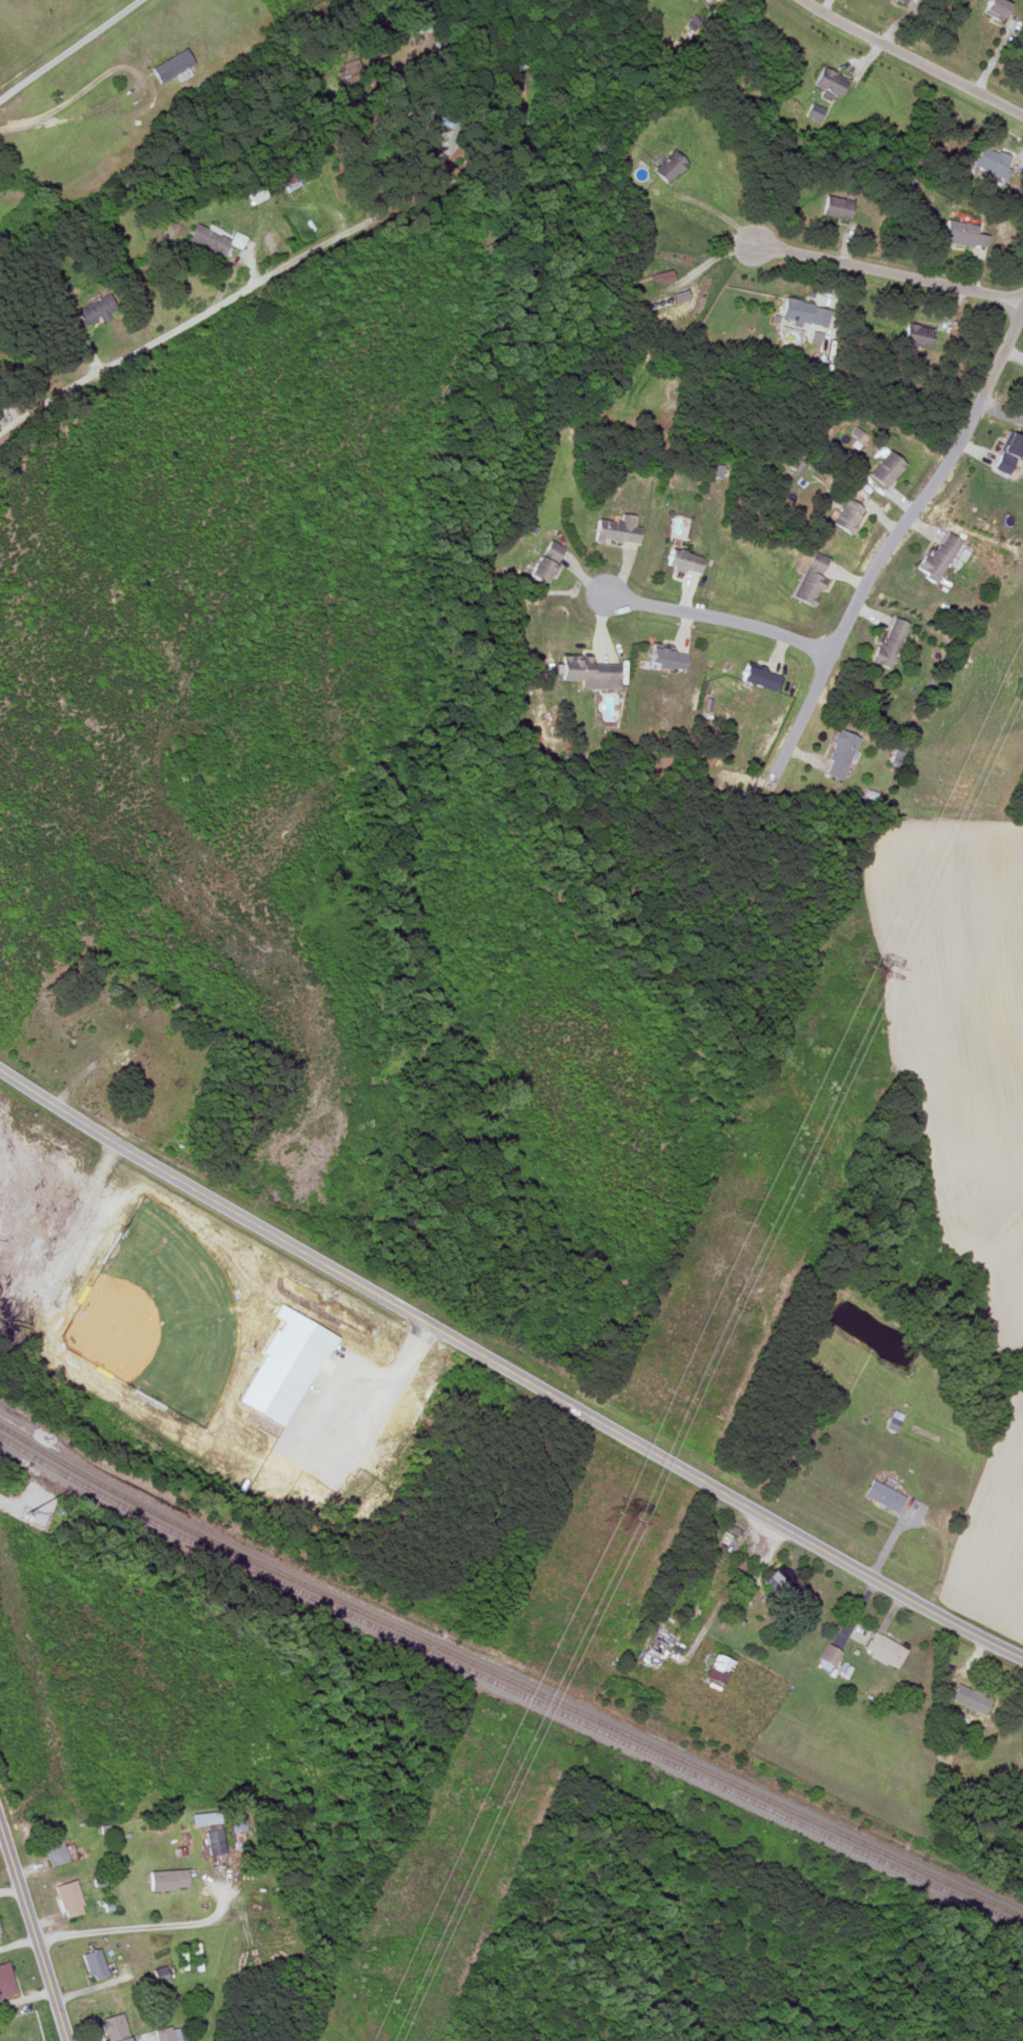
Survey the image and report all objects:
building: (901, 0)
building: (996, 8)
road: (70, 51)
road: (914, 58)
building: (172, 64)
building: (350, 71)
road: (138, 76)
building: (830, 81)
building: (816, 112)
road: (14, 126)
building: (990, 162)
building: (668, 167)
building: (835, 208)
building: (963, 234)
building: (207, 240)
road: (887, 273)
building: (660, 278)
building: (94, 311)
building: (807, 317)
road: (182, 325)
building: (916, 336)
building: (1006, 453)
building: (883, 468)
building: (845, 516)
building: (616, 529)
road: (891, 539)
building: (936, 556)
building: (682, 560)
building: (544, 562)
building: (808, 580)
road: (720, 616)
building: (888, 643)
building: (665, 660)
building: (586, 669)
building: (757, 678)
building: (839, 755)
power tower: (867, 969)
building: (286, 1366)
road: (508, 1367)
building: (891, 1421)
road: (319, 1467)
railway: (91, 1478)
building: (882, 1497)
road: (6, 1501)
power tower: (612, 1525)
building: (731, 1532)
building: (784, 1585)
road: (729, 1586)
building: (882, 1650)
building: (828, 1655)
building: (717, 1669)
railway: (507, 1690)
building: (975, 1699)
railway: (604, 1723)
building: (1016, 1792)
building: (206, 1818)
building: (236, 1822)
building: (212, 1841)
building: (51, 1849)
building: (166, 1879)
building: (68, 1898)
road: (141, 1926)
road: (33, 1934)
building: (0, 1937)
building: (92, 1964)
building: (4, 1980)
building: (113, 2027)
building: (163, 2034)
building: (177, 2034)

